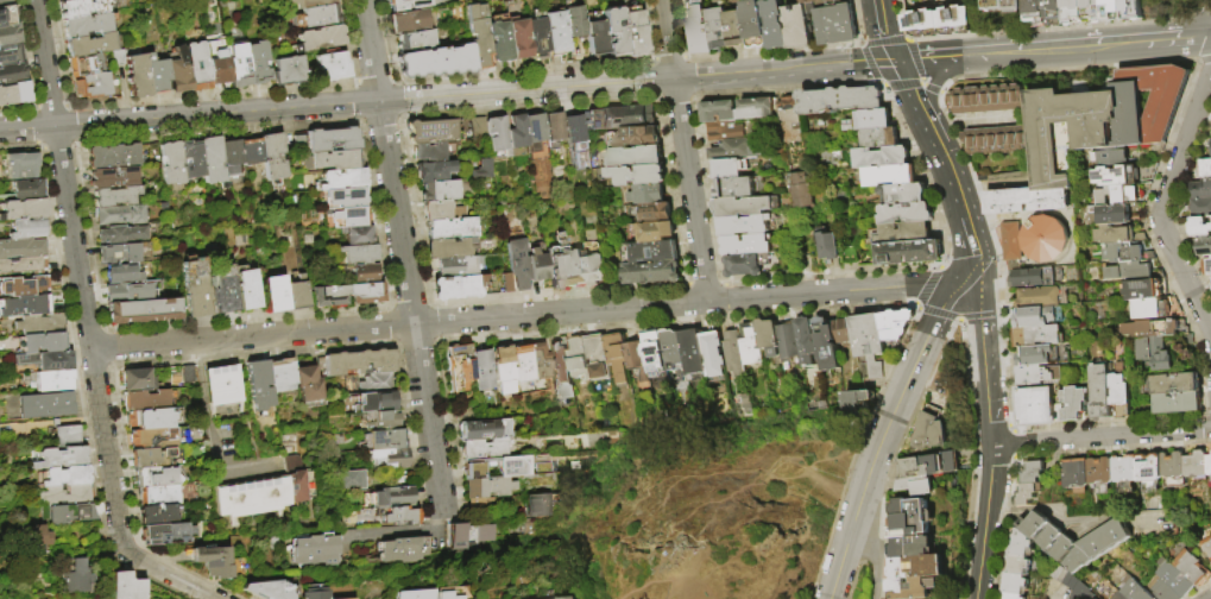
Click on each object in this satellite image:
building: (802, 0)
building: (812, 1)
building: (6, 2)
building: (309, 2)
building: (406, 4)
building: (995, 6)
building: (1014, 6)
building: (82, 7)
building: (1111, 10)
building: (1130, 10)
building: (1034, 11)
building: (1091, 11)
building: (474, 12)
building: (1053, 12)
building: (1072, 12)
building: (315, 15)
building: (6, 17)
building: (953, 19)
building: (410, 20)
building: (835, 20)
road: (860, 20)
road: (902, 20)
building: (574, 21)
building: (921, 21)
building: (88, 24)
building: (755, 24)
building: (775, 24)
road: (1095, 24)
building: (698, 26)
building: (797, 26)
building: (718, 27)
road: (677, 29)
building: (737, 29)
road: (884, 29)
road: (647, 30)
building: (614, 31)
building: (633, 32)
building: (555, 33)
building: (595, 34)
building: (10, 36)
road: (944, 36)
building: (537, 37)
building: (318, 38)
building: (518, 38)
building: (499, 39)
road: (1178, 39)
road: (884, 40)
road: (386, 42)
building: (415, 42)
building: (479, 43)
road: (862, 43)
building: (92, 44)
road: (909, 49)
road: (370, 50)
road: (1046, 50)
road: (770, 52)
building: (10, 53)
building: (116, 57)
road: (929, 57)
building: (238, 58)
road: (652, 58)
road: (668, 58)
traffic signals: (894, 58)
road: (903, 58)
building: (258, 61)
building: (435, 62)
road: (650, 62)
building: (219, 63)
road: (868, 63)
building: (86, 64)
building: (197, 65)
building: (332, 65)
building: (178, 68)
road: (783, 68)
road: (917, 68)
road: (27, 69)
building: (288, 70)
road: (522, 71)
building: (12, 72)
building: (157, 74)
building: (138, 75)
road: (390, 77)
road: (686, 77)
road: (371, 80)
road: (921, 80)
road: (654, 81)
road: (879, 82)
road: (920, 82)
road: (922, 83)
building: (93, 84)
road: (901, 84)
road: (782, 88)
road: (929, 88)
road: (931, 88)
road: (525, 90)
road: (910, 90)
building: (14, 93)
road: (198, 95)
road: (357, 97)
road: (398, 99)
road: (671, 99)
building: (840, 100)
building: (986, 100)
road: (64, 105)
road: (34, 106)
road: (49, 106)
road: (528, 106)
building: (756, 108)
road: (30, 111)
building: (719, 111)
road: (188, 114)
road: (399, 116)
building: (620, 116)
building: (790, 119)
road: (359, 120)
road: (378, 120)
building: (870, 120)
building: (1100, 120)
road: (68, 121)
road: (32, 127)
building: (478, 127)
building: (554, 128)
building: (574, 128)
building: (725, 131)
building: (433, 132)
building: (517, 132)
building: (497, 133)
building: (536, 135)
road: (933, 135)
building: (636, 137)
building: (881, 138)
road: (74, 139)
building: (328, 139)
building: (994, 140)
road: (18, 146)
road: (37, 146)
road: (69, 146)
building: (1210, 146)
road: (55, 147)
building: (734, 149)
road: (683, 150)
building: (252, 151)
building: (430, 152)
building: (112, 156)
building: (272, 156)
building: (637, 156)
building: (231, 157)
building: (883, 157)
building: (1111, 158)
building: (191, 159)
building: (332, 159)
building: (212, 160)
building: (172, 163)
building: (484, 165)
building: (21, 166)
building: (729, 168)
building: (1206, 168)
building: (434, 170)
building: (637, 175)
building: (893, 175)
building: (1123, 175)
building: (113, 177)
building: (340, 179)
building: (734, 187)
building: (1201, 189)
building: (27, 190)
building: (440, 190)
road: (669, 191)
road: (706, 191)
building: (802, 191)
building: (650, 194)
building: (904, 194)
building: (1119, 195)
building: (114, 196)
building: (346, 197)
road: (958, 201)
building: (1027, 201)
road: (1165, 203)
building: (745, 206)
building: (1200, 207)
building: (23, 209)
building: (442, 210)
building: (655, 212)
road: (396, 213)
building: (908, 213)
building: (120, 214)
building: (1116, 214)
building: (345, 217)
building: (744, 225)
building: (1200, 226)
building: (29, 228)
building: (452, 228)
building: (656, 231)
building: (904, 233)
building: (121, 234)
building: (357, 235)
building: (1115, 237)
building: (1043, 239)
water tower: (1045, 240)
building: (1010, 242)
building: (746, 245)
building: (1203, 245)
building: (830, 246)
building: (448, 247)
building: (21, 248)
building: (656, 251)
building: (912, 252)
building: (125, 253)
building: (358, 254)
building: (1125, 254)
traffic signals: (972, 257)
building: (518, 264)
building: (557, 264)
building: (24, 265)
building: (744, 265)
building: (455, 266)
building: (537, 266)
road: (927, 266)
building: (1206, 266)
building: (576, 267)
building: (595, 269)
building: (126, 272)
building: (652, 272)
building: (362, 273)
building: (1131, 273)
building: (1034, 278)
building: (506, 282)
road: (926, 284)
building: (23, 285)
building: (458, 286)
building: (194, 288)
building: (246, 290)
road: (844, 290)
building: (1142, 290)
building: (130, 291)
building: (220, 291)
building: (365, 292)
building: (273, 294)
building: (295, 294)
building: (328, 296)
building: (1041, 297)
road: (424, 301)
road: (465, 301)
road: (389, 303)
road: (406, 303)
building: (24, 305)
road: (430, 305)
building: (1154, 309)
road: (385, 310)
building: (143, 311)
road: (560, 311)
building: (1037, 316)
road: (957, 319)
road: (433, 321)
building: (39, 323)
building: (895, 323)
road: (101, 326)
road: (389, 326)
road: (636, 326)
road: (87, 327)
road: (101, 329)
building: (843, 329)
building: (1149, 329)
building: (868, 334)
building: (765, 335)
road: (251, 336)
road: (437, 336)
building: (1035, 336)
road: (928, 338)
building: (786, 339)
building: (805, 340)
road: (392, 341)
building: (40, 342)
building: (748, 342)
road: (433, 343)
building: (825, 343)
road: (416, 345)
road: (102, 347)
road: (398, 347)
building: (652, 351)
building: (670, 352)
building: (731, 352)
building: (689, 353)
building: (709, 353)
building: (1154, 353)
building: (595, 355)
building: (614, 355)
building: (635, 355)
building: (1042, 355)
building: (576, 357)
building: (45, 360)
building: (537, 360)
building: (359, 361)
building: (518, 361)
building: (557, 361)
road: (108, 365)
building: (456, 365)
building: (873, 366)
building: (479, 367)
building: (500, 368)
road: (107, 370)
building: (282, 374)
building: (1036, 374)
building: (188, 376)
building: (53, 380)
building: (137, 380)
building: (376, 383)
building: (1169, 384)
building: (221, 385)
building: (308, 386)
building: (259, 387)
building: (1098, 391)
building: (1118, 392)
road: (81, 397)
building: (857, 401)
building: (145, 402)
building: (374, 402)
building: (1071, 403)
building: (1175, 403)
building: (46, 405)
building: (1034, 408)
building: (150, 420)
building: (380, 420)
road: (428, 422)
road: (907, 424)
road: (991, 427)
building: (482, 429)
building: (929, 431)
road: (208, 434)
road: (1100, 436)
building: (65, 437)
building: (158, 439)
building: (383, 440)
building: (484, 448)
building: (61, 458)
building: (391, 458)
building: (154, 459)
building: (1196, 464)
building: (1209, 464)
building: (927, 465)
building: (1172, 465)
building: (1124, 467)
building: (1149, 467)
road: (875, 468)
building: (1100, 469)
building: (515, 471)
building: (1033, 471)
building: (1076, 472)
building: (65, 477)
building: (156, 479)
building: (296, 479)
building: (353, 480)
building: (488, 486)
building: (916, 486)
road: (742, 492)
building: (273, 493)
building: (1029, 494)
building: (67, 496)
building: (158, 497)
building: (238, 498)
building: (387, 498)
building: (477, 503)
building: (537, 505)
park: (714, 505)
building: (69, 511)
building: (402, 515)
building: (158, 517)
building: (909, 517)
building: (468, 534)
building: (168, 535)
building: (34, 540)
building: (1104, 540)
building: (1017, 542)
road: (713, 543)
building: (1205, 544)
building: (913, 546)
building: (315, 549)
building: (404, 549)
road: (873, 549)
road: (881, 554)
road: (847, 557)
building: (213, 562)
building: (1017, 563)
building: (917, 566)
building: (1191, 567)
road: (856, 578)
building: (1173, 578)
building: (76, 579)
building: (1014, 582)
building: (127, 586)
building: (1071, 586)
building: (913, 587)
building: (1134, 588)
building: (269, 589)
building: (1163, 591)
building: (313, 592)
building: (450, 593)
building: (1112, 593)
building: (415, 594)
building: (1011, 595)
building: (349, 598)
building: (576, 598)

